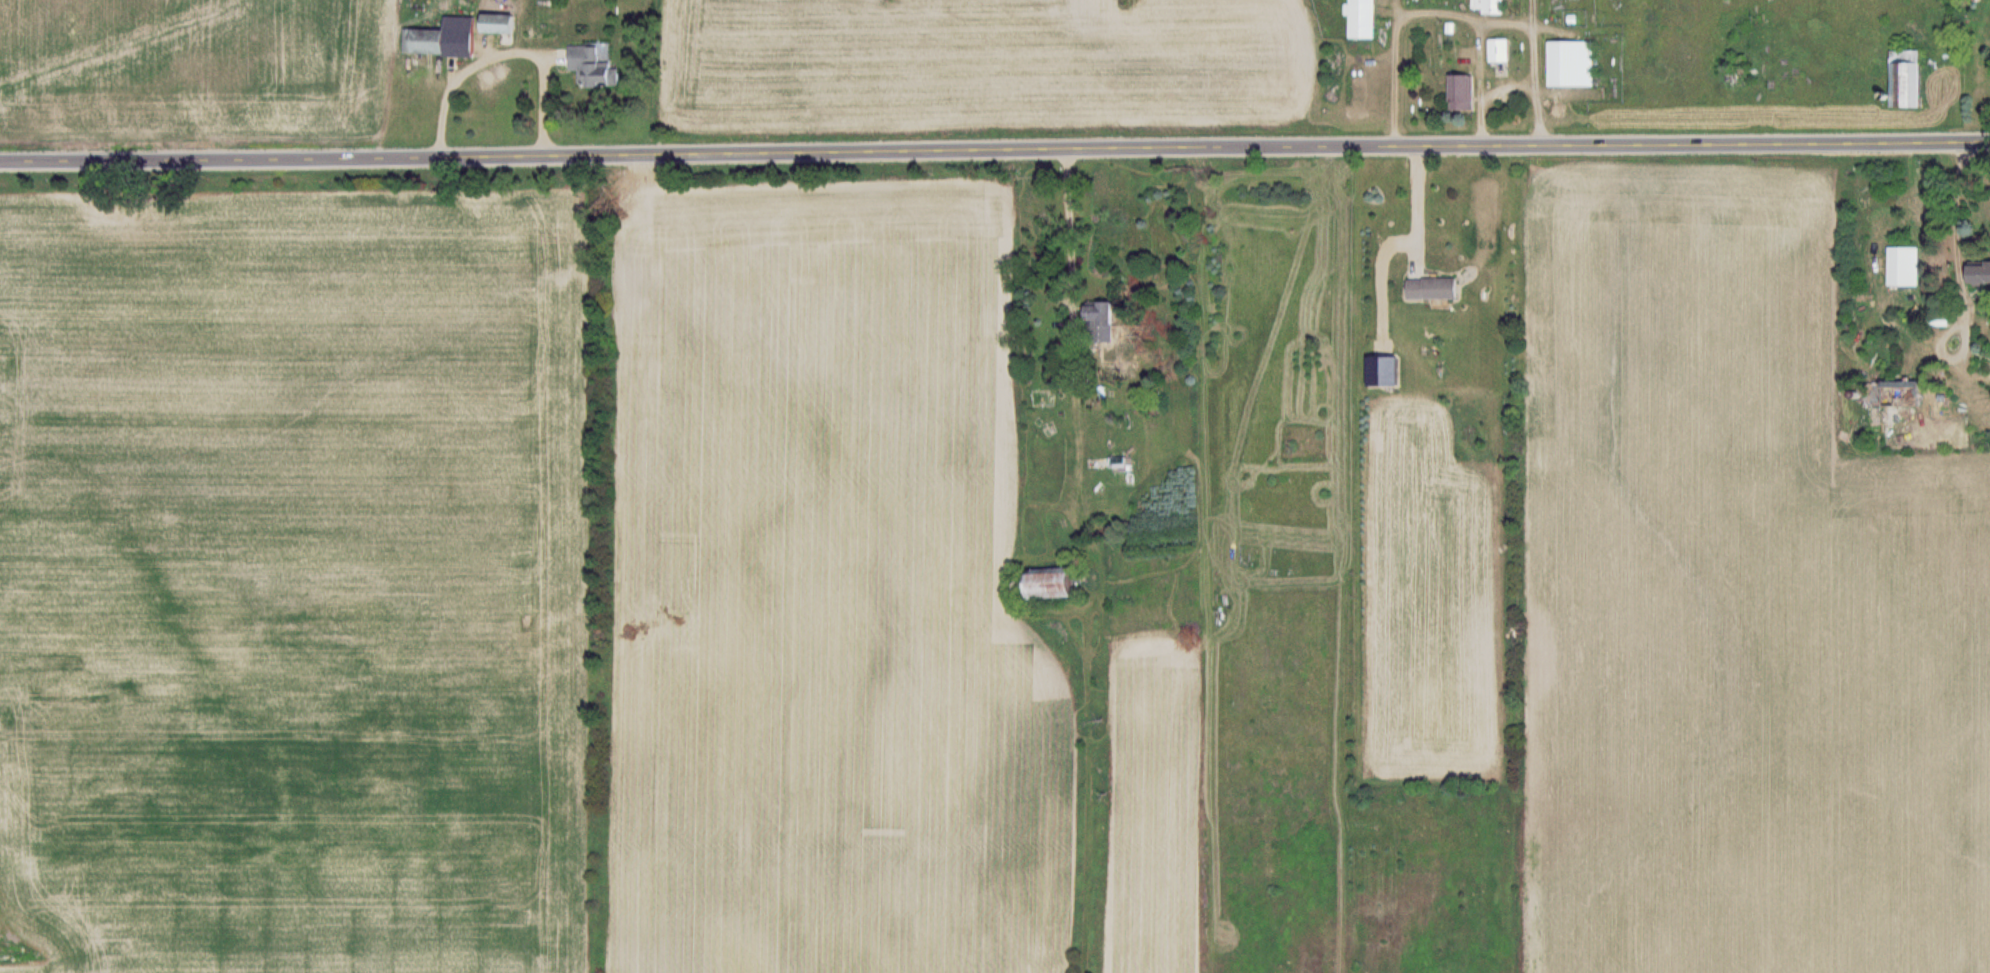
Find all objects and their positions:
building: (1490, 5)
building: (1367, 19)
building: (502, 23)
building: (445, 38)
building: (1501, 49)
road: (506, 51)
building: (1575, 63)
building: (595, 66)
building: (1742, 73)
building: (1911, 77)
building: (1465, 92)
road: (994, 151)
road: (1958, 206)
road: (1418, 208)
road: (1070, 233)
building: (1906, 265)
building: (1437, 288)
building: (1104, 310)
building: (1903, 392)
building: (1121, 462)
building: (1063, 583)

